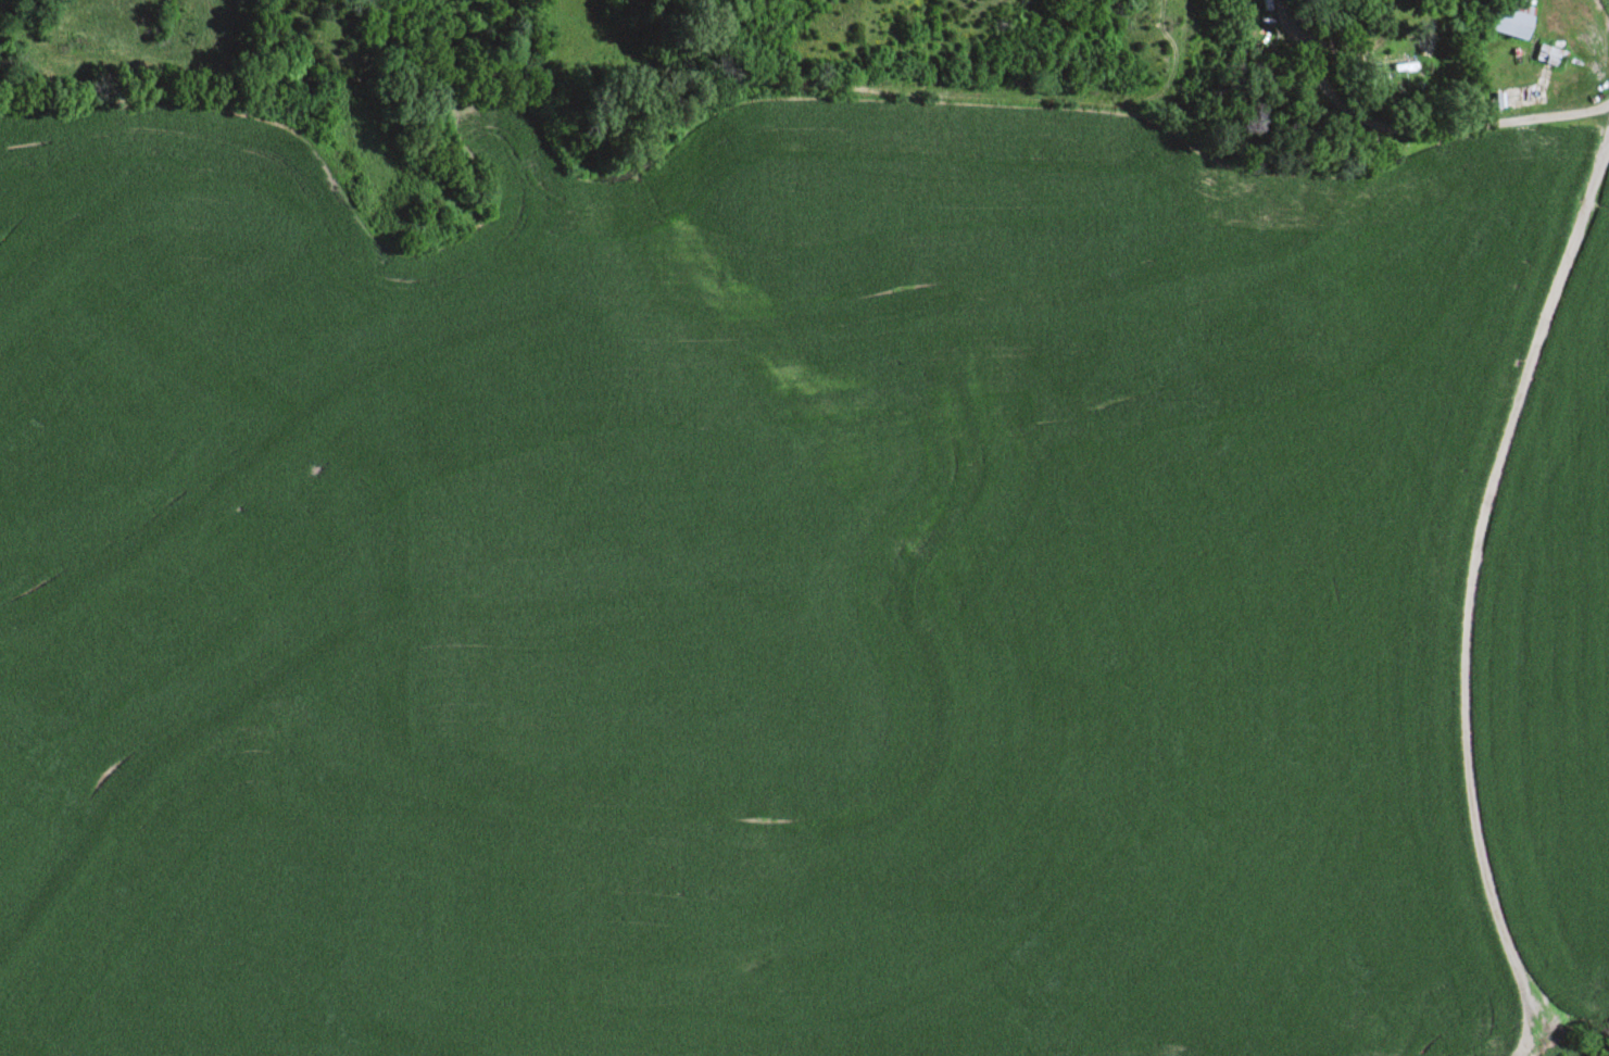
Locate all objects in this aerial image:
building: (1507, 15)
building: (1547, 52)
building: (1394, 72)
road: (1595, 217)

